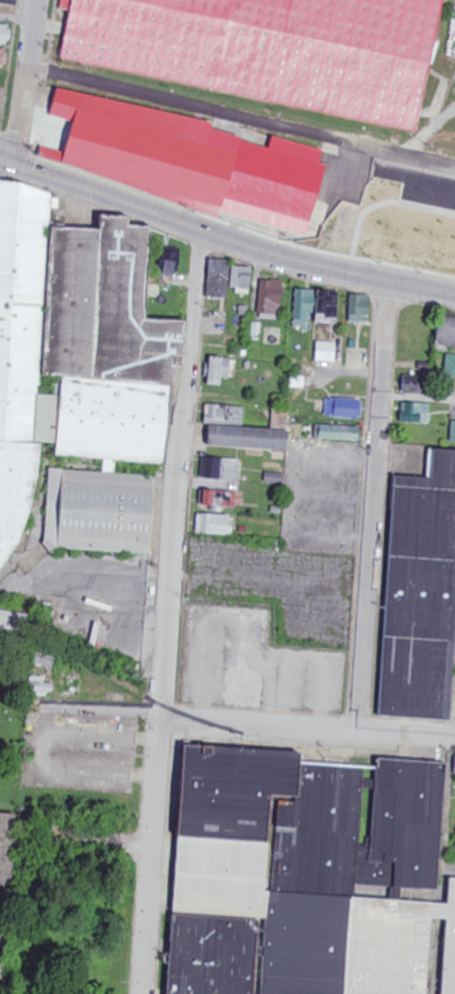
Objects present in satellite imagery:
road: (16, 19)
building: (274, 49)
road: (25, 82)
road: (240, 117)
traffic signals: (13, 164)
building: (194, 164)
road: (344, 206)
road: (224, 237)
building: (81, 376)
road: (417, 399)
road: (372, 506)
building: (421, 594)
road: (169, 611)
road: (308, 728)
road: (449, 780)
building: (310, 877)
building: (7, 890)

